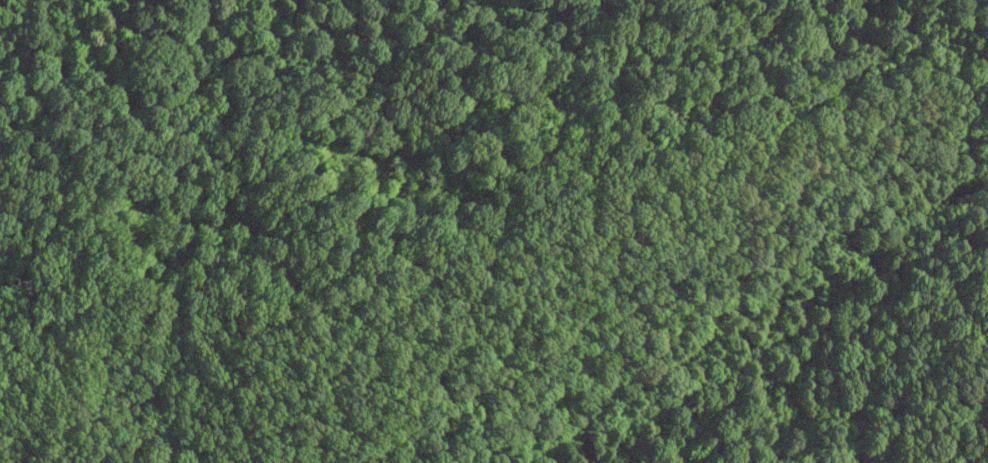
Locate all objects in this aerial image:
road: (979, 219)

